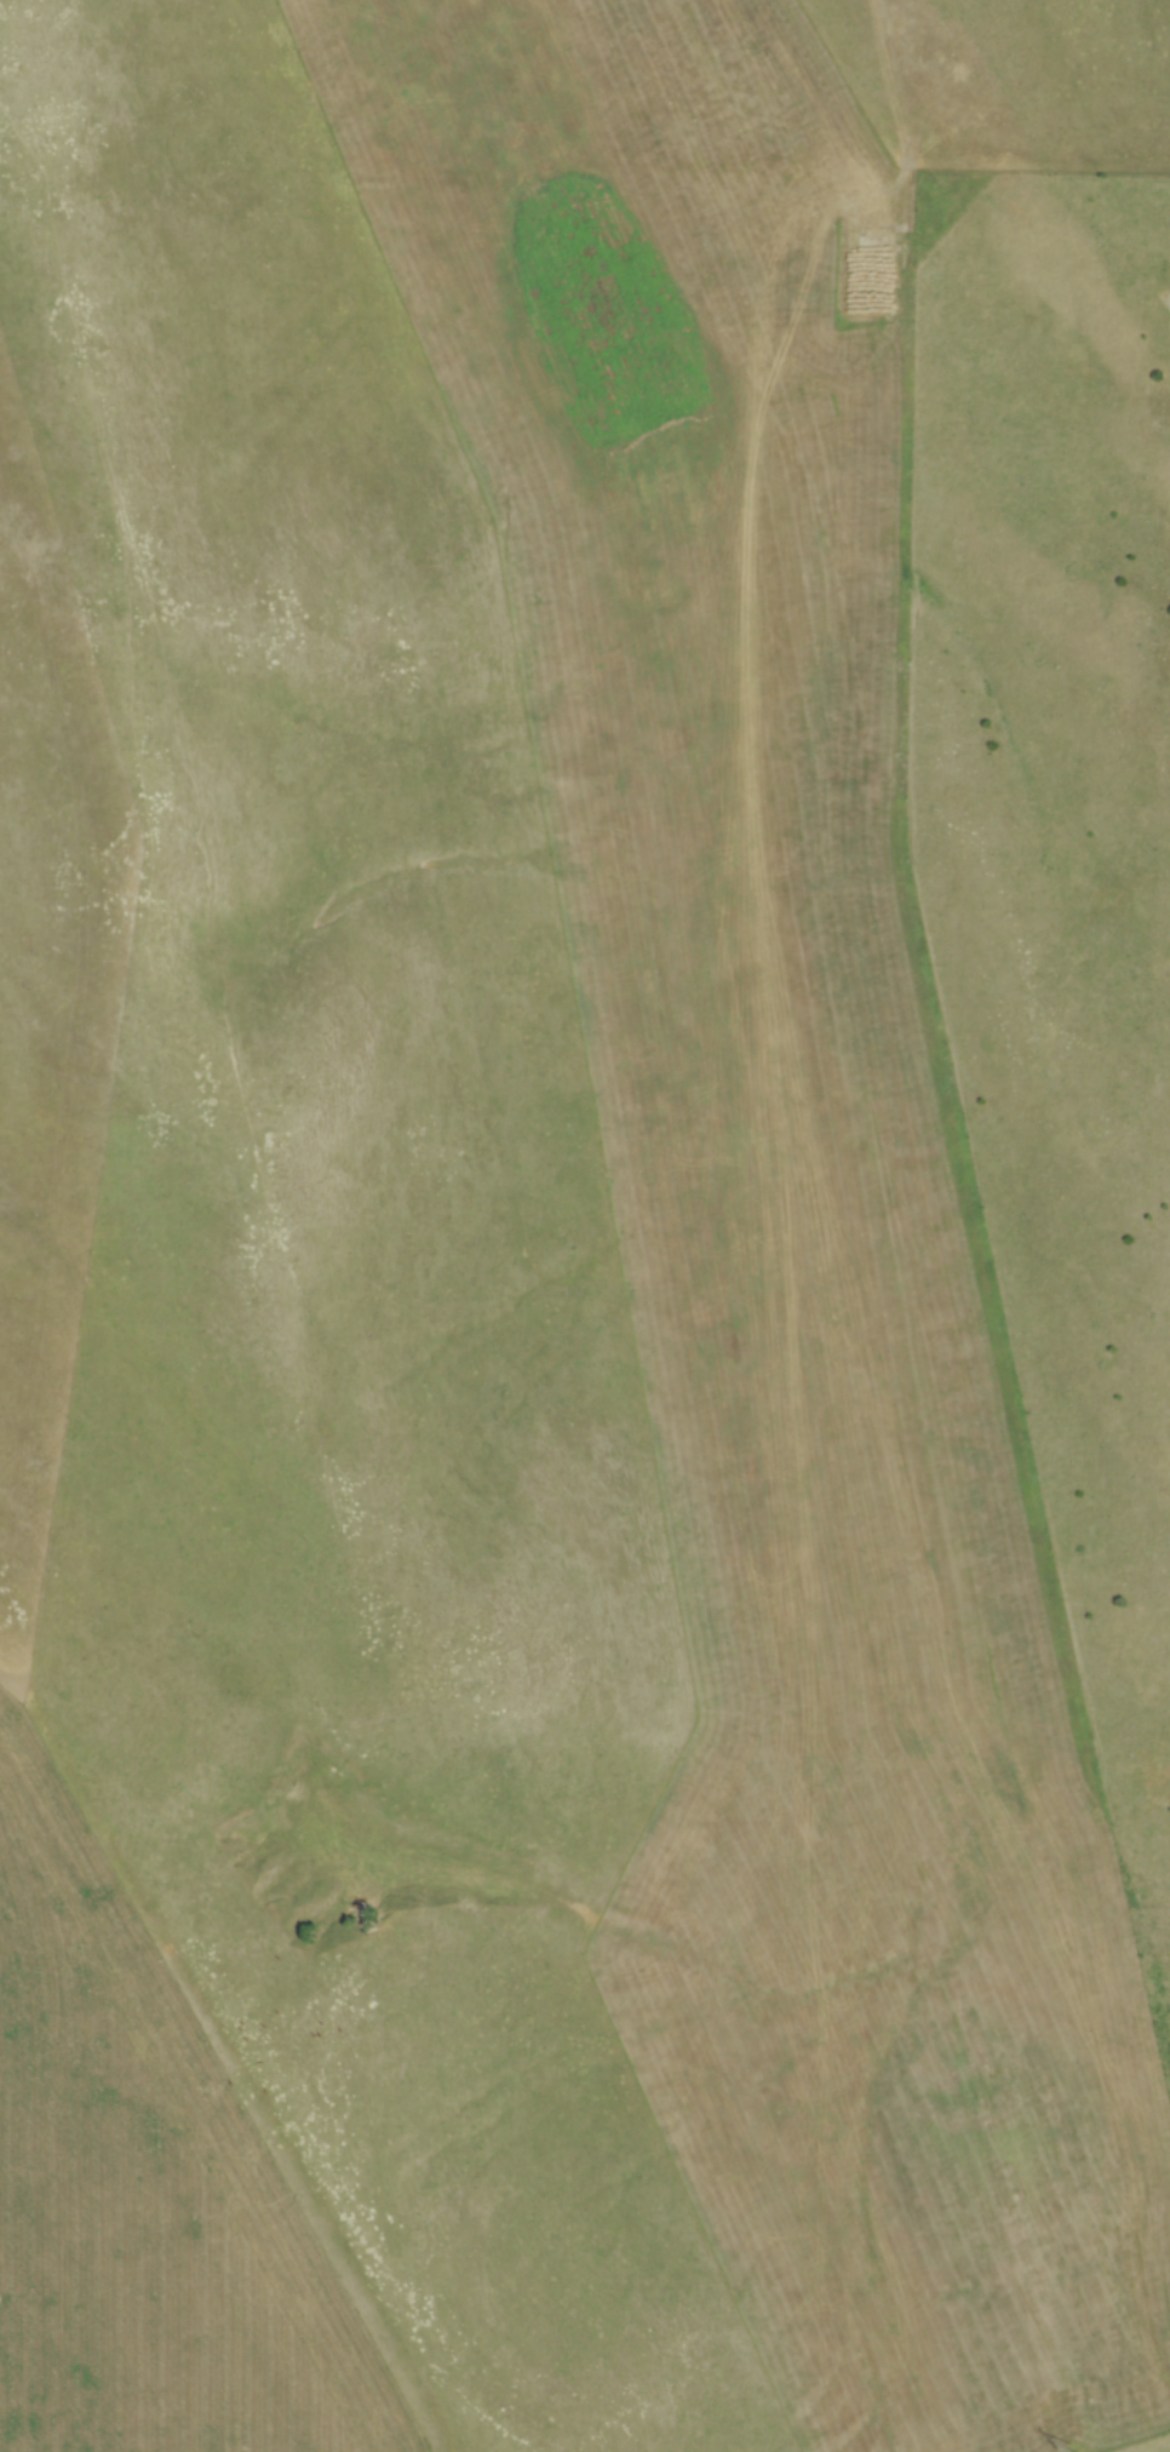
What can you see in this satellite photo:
power tower: (1073, 2451)

